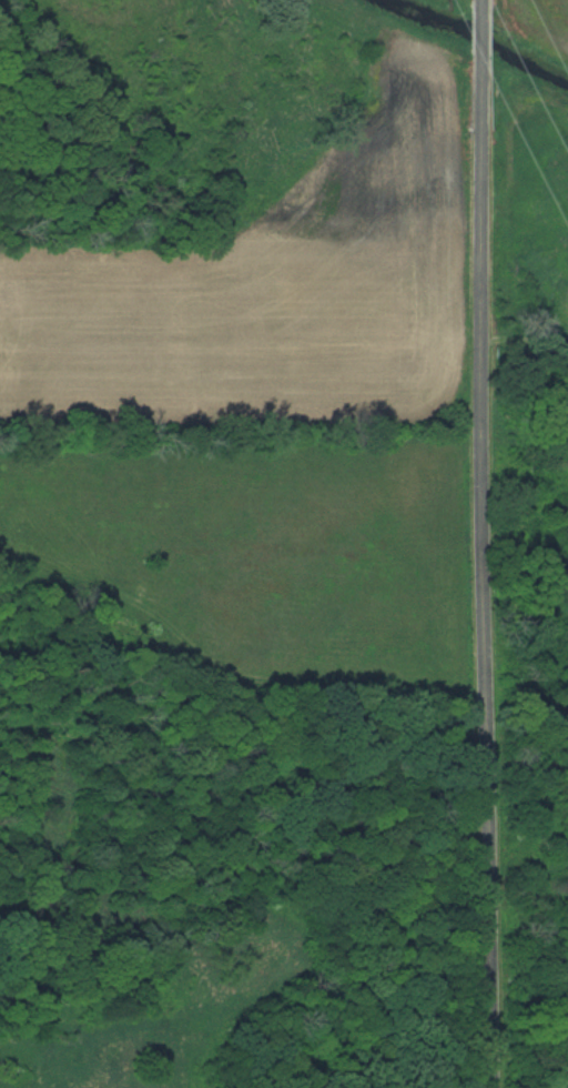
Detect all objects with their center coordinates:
road: (485, 544)

